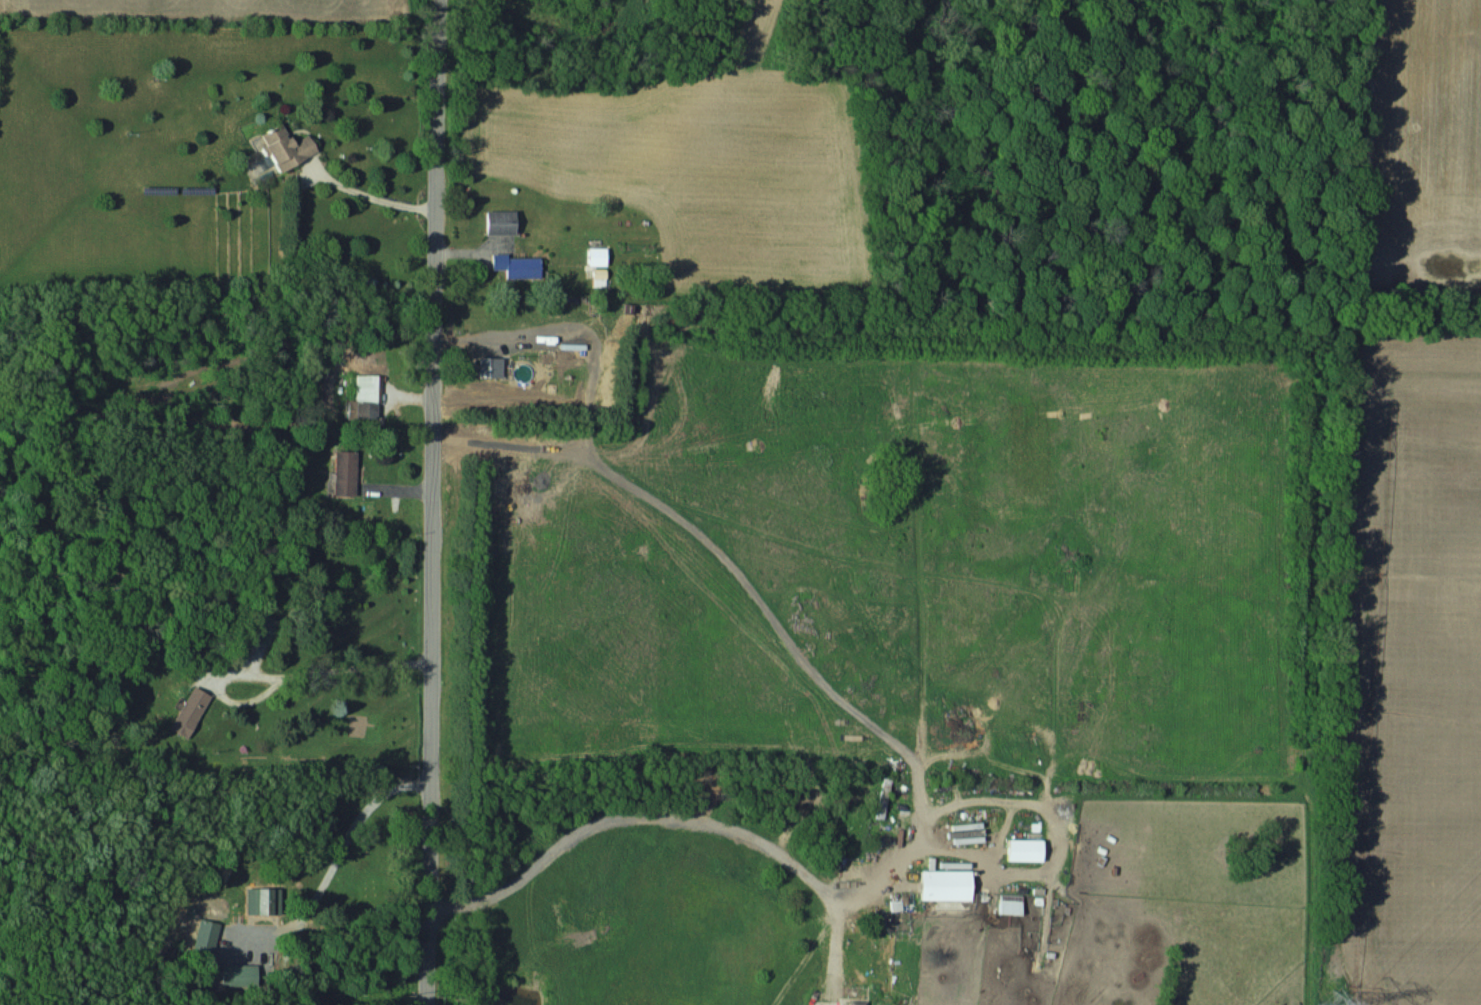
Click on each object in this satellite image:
road: (437, 2)
building: (287, 147)
road: (373, 196)
building: (502, 222)
building: (523, 267)
building: (599, 277)
road: (481, 338)
building: (572, 343)
building: (364, 398)
building: (345, 472)
road: (433, 502)
road: (324, 675)
building: (189, 711)
building: (884, 797)
road: (623, 822)
building: (981, 835)
road: (353, 840)
building: (947, 885)
building: (263, 901)
building: (1011, 904)
building: (209, 935)
building: (238, 974)
building: (858, 1002)
building: (77, 1004)

